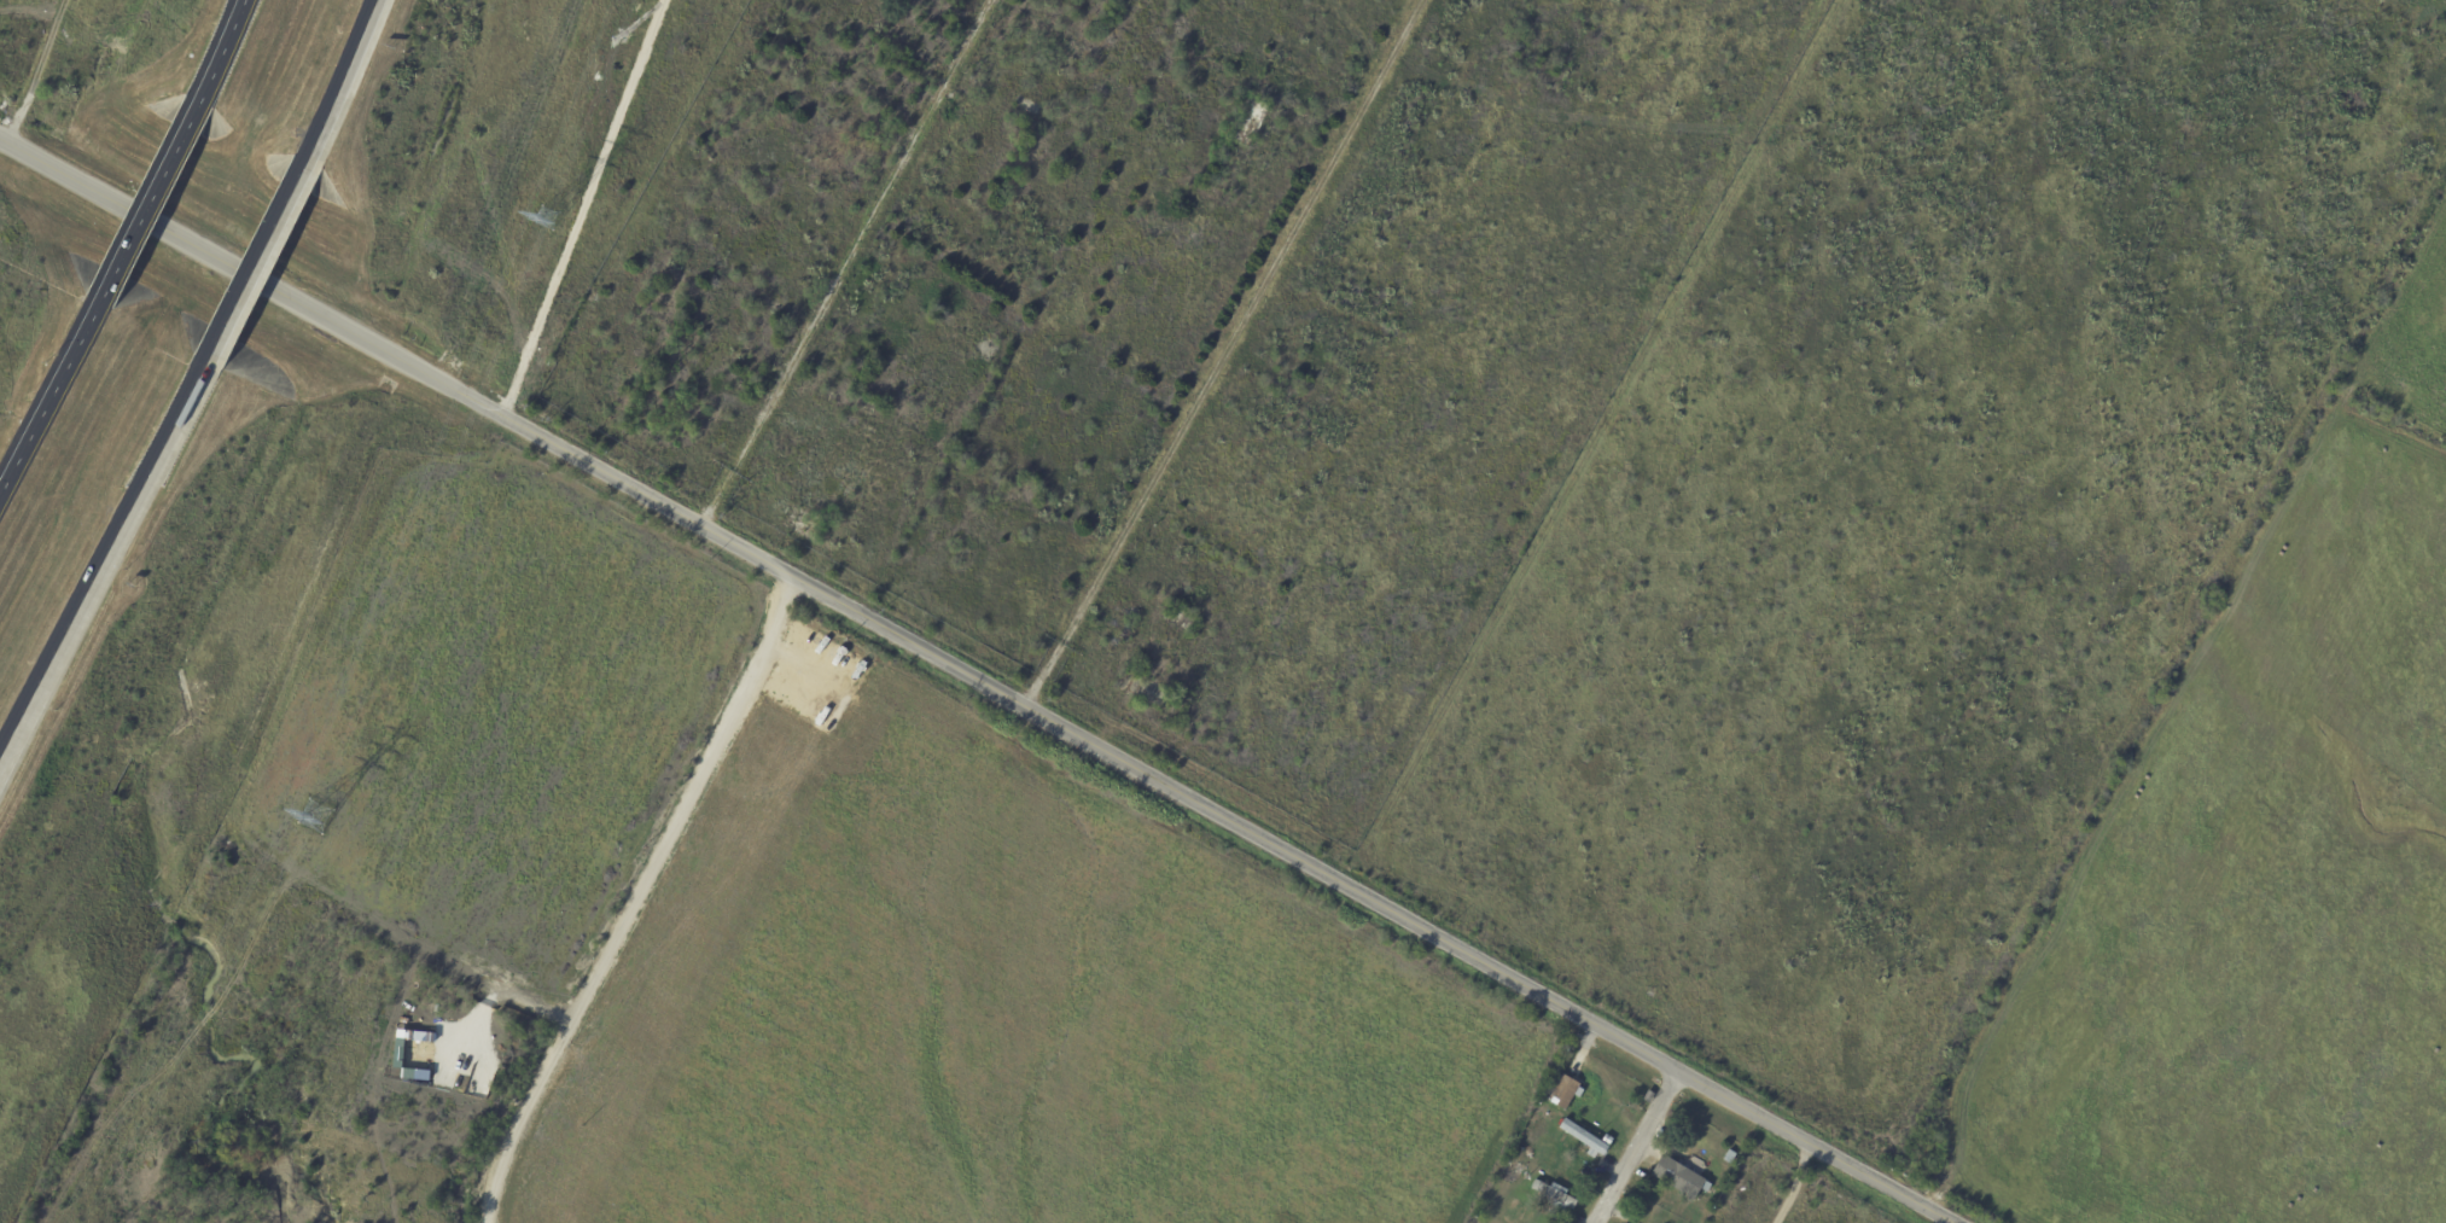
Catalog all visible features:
road: (220, 48)
road: (343, 78)
road: (147, 200)
road: (590, 209)
power tower: (541, 221)
road: (257, 262)
road: (849, 263)
road: (47, 390)
road: (101, 561)
road: (978, 679)
power tower: (310, 821)
road: (636, 898)
building: (1554, 1078)
building: (1565, 1094)
building: (1647, 1096)
building: (1584, 1138)
building: (1607, 1140)
road: (1636, 1147)
building: (1729, 1158)
building: (1519, 1169)
building: (1678, 1178)
road: (1795, 1183)
building: (1554, 1195)

